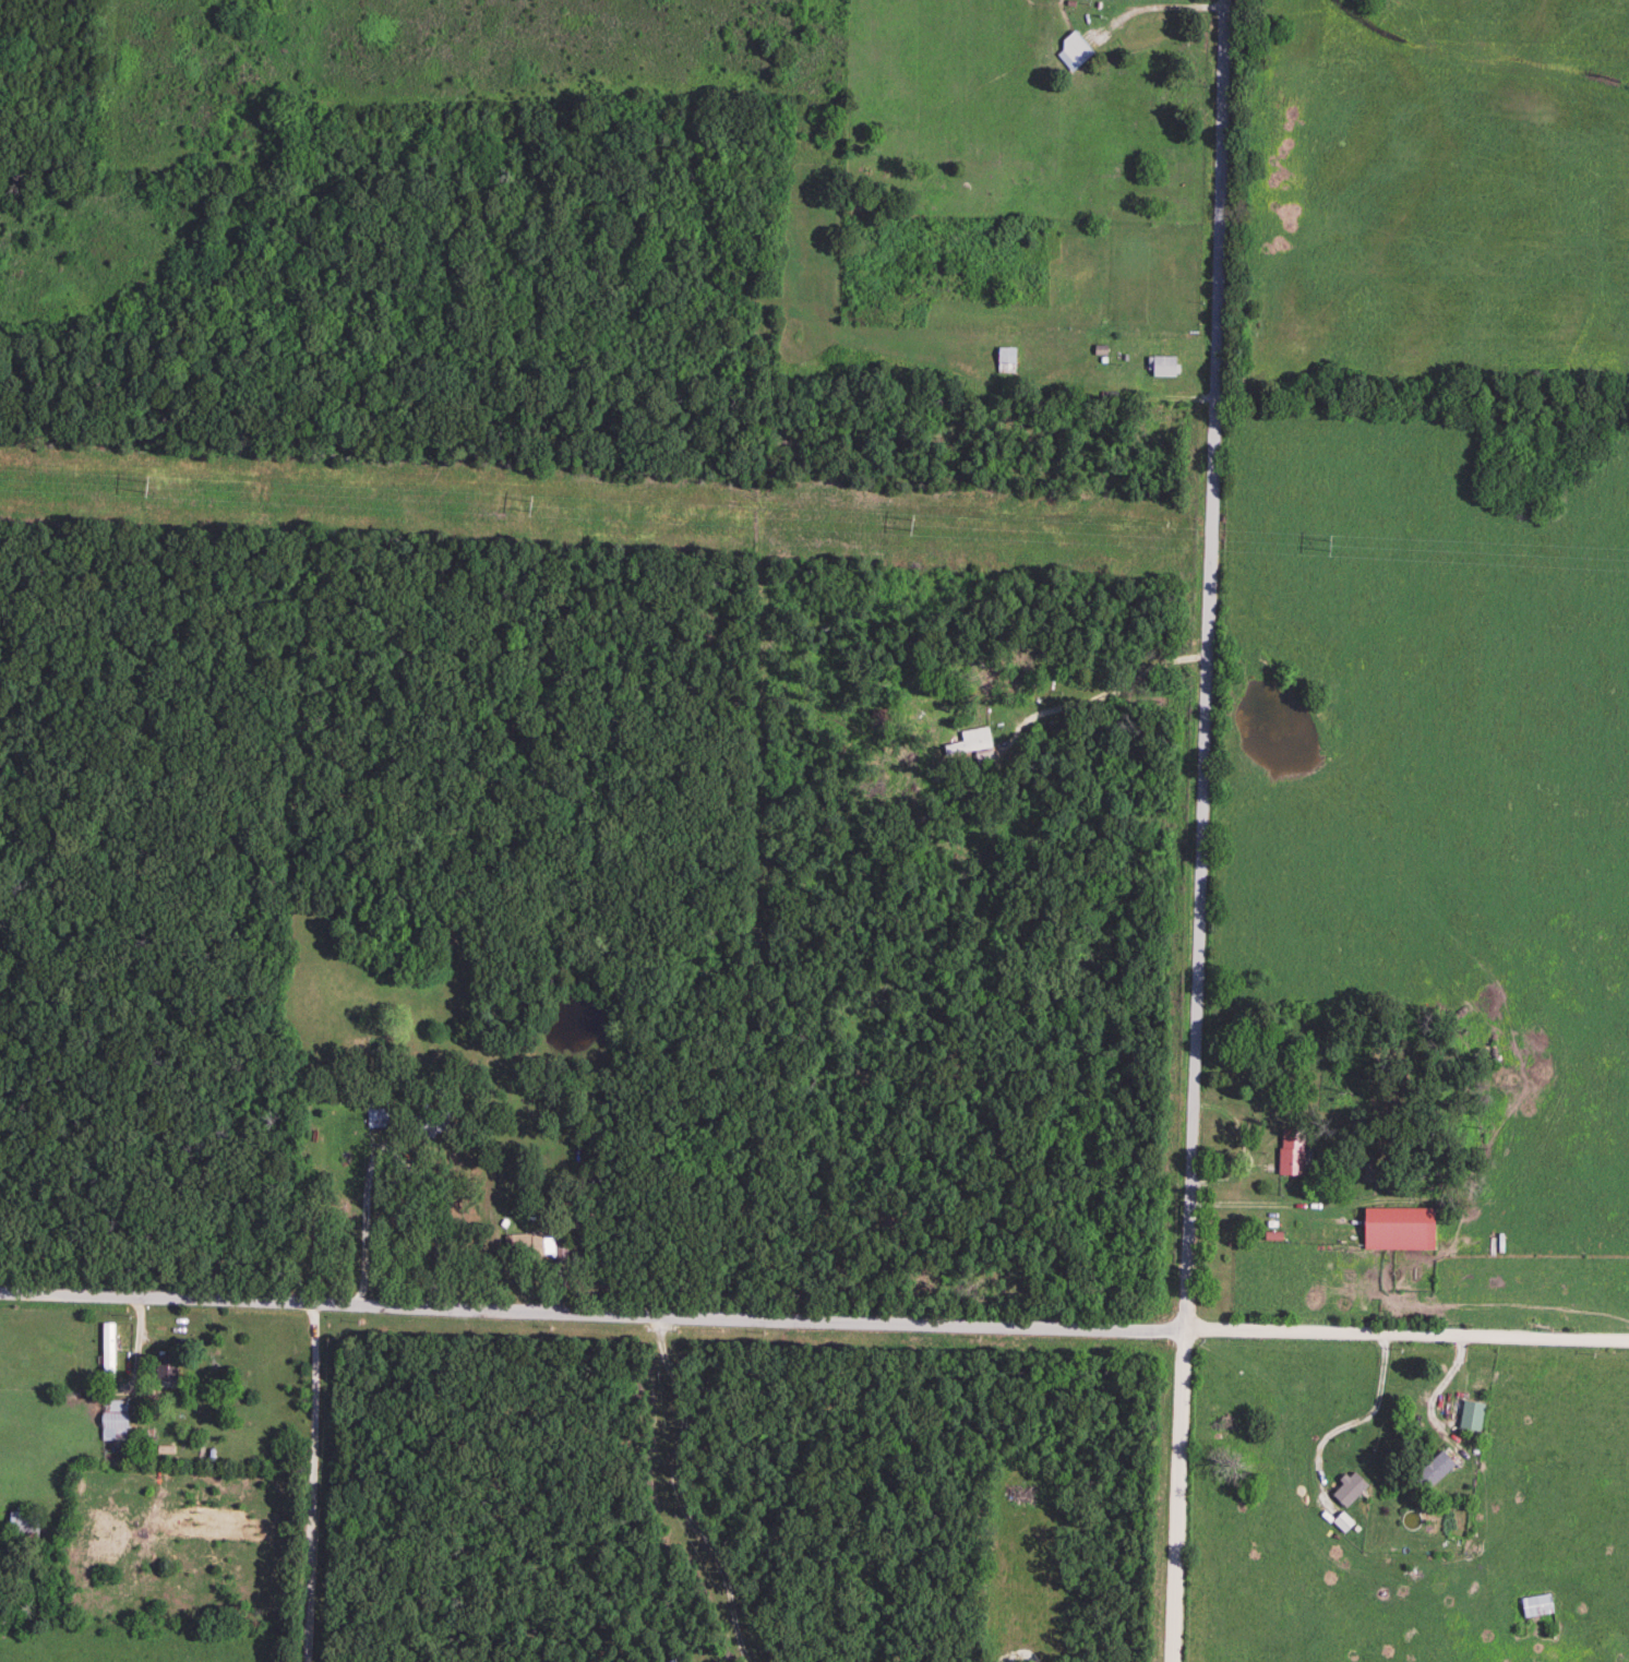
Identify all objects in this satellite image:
building: (1074, 47)
building: (1164, 361)
power tower: (147, 490)
power tower: (530, 507)
power tower: (911, 526)
power tower: (1327, 549)
road: (1105, 693)
building: (973, 737)
road: (1200, 830)
building: (378, 1111)
building: (1292, 1149)
building: (1399, 1224)
road: (364, 1241)
building: (544, 1242)
road: (814, 1322)
road: (139, 1337)
building: (108, 1347)
building: (167, 1364)
building: (1472, 1412)
building: (117, 1414)
road: (1344, 1459)
building: (1436, 1467)
road: (316, 1483)
building: (1350, 1486)
road: (681, 1496)
building: (1343, 1519)

